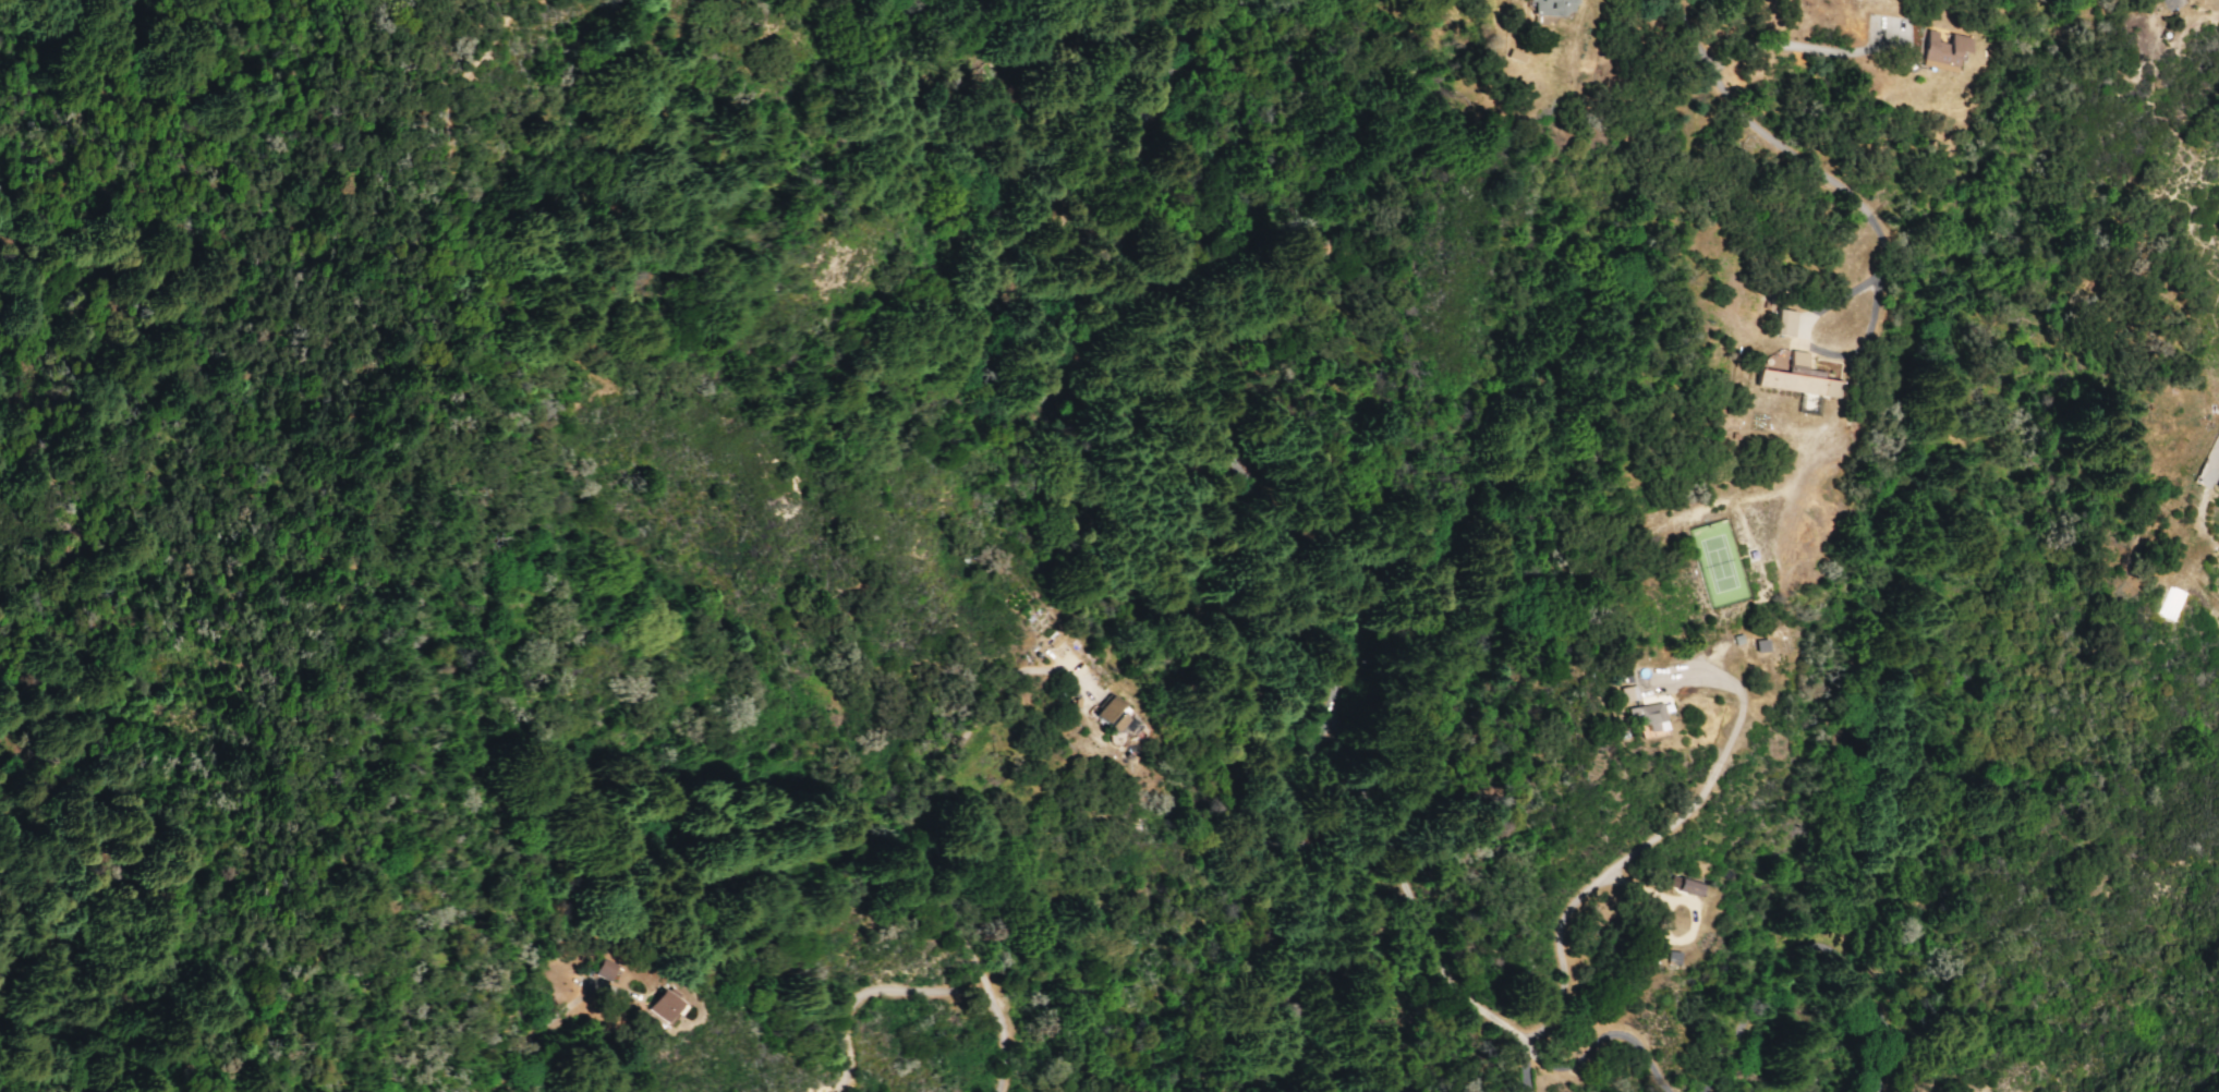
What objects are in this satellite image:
building: (1550, 8)
building: (1940, 51)
road: (1711, 75)
road: (457, 227)
road: (1872, 300)
building: (1783, 321)
building: (1796, 378)
crop: (1937, 482)
road: (1319, 519)
park: (1719, 562)
road: (1559, 685)
building: (1117, 716)
building: (1647, 718)
road: (376, 810)
building: (1683, 885)
road: (1562, 915)
road: (929, 961)
building: (606, 969)
building: (652, 994)
building: (662, 1006)
road: (548, 1026)
road: (1338, 1067)
road: (1320, 1087)

